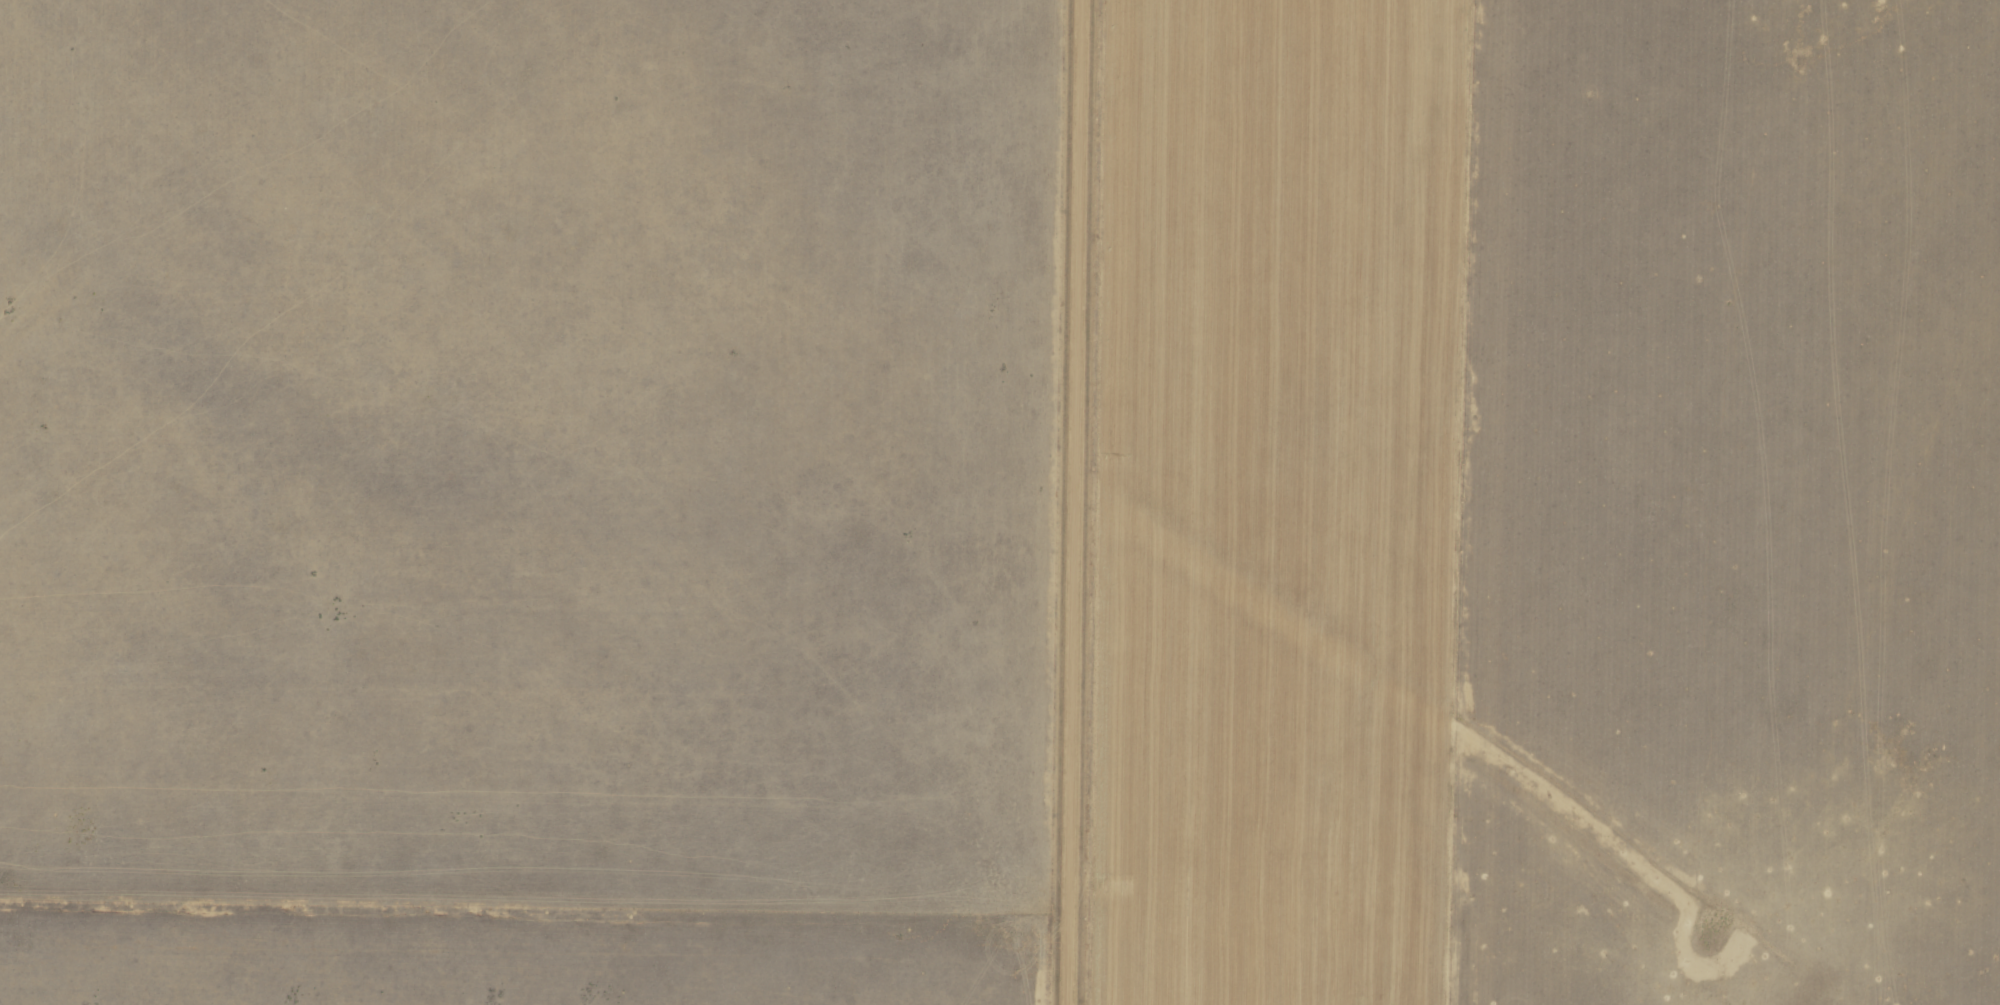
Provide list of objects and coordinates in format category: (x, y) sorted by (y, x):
road: (1074, 502)
road: (1391, 683)

